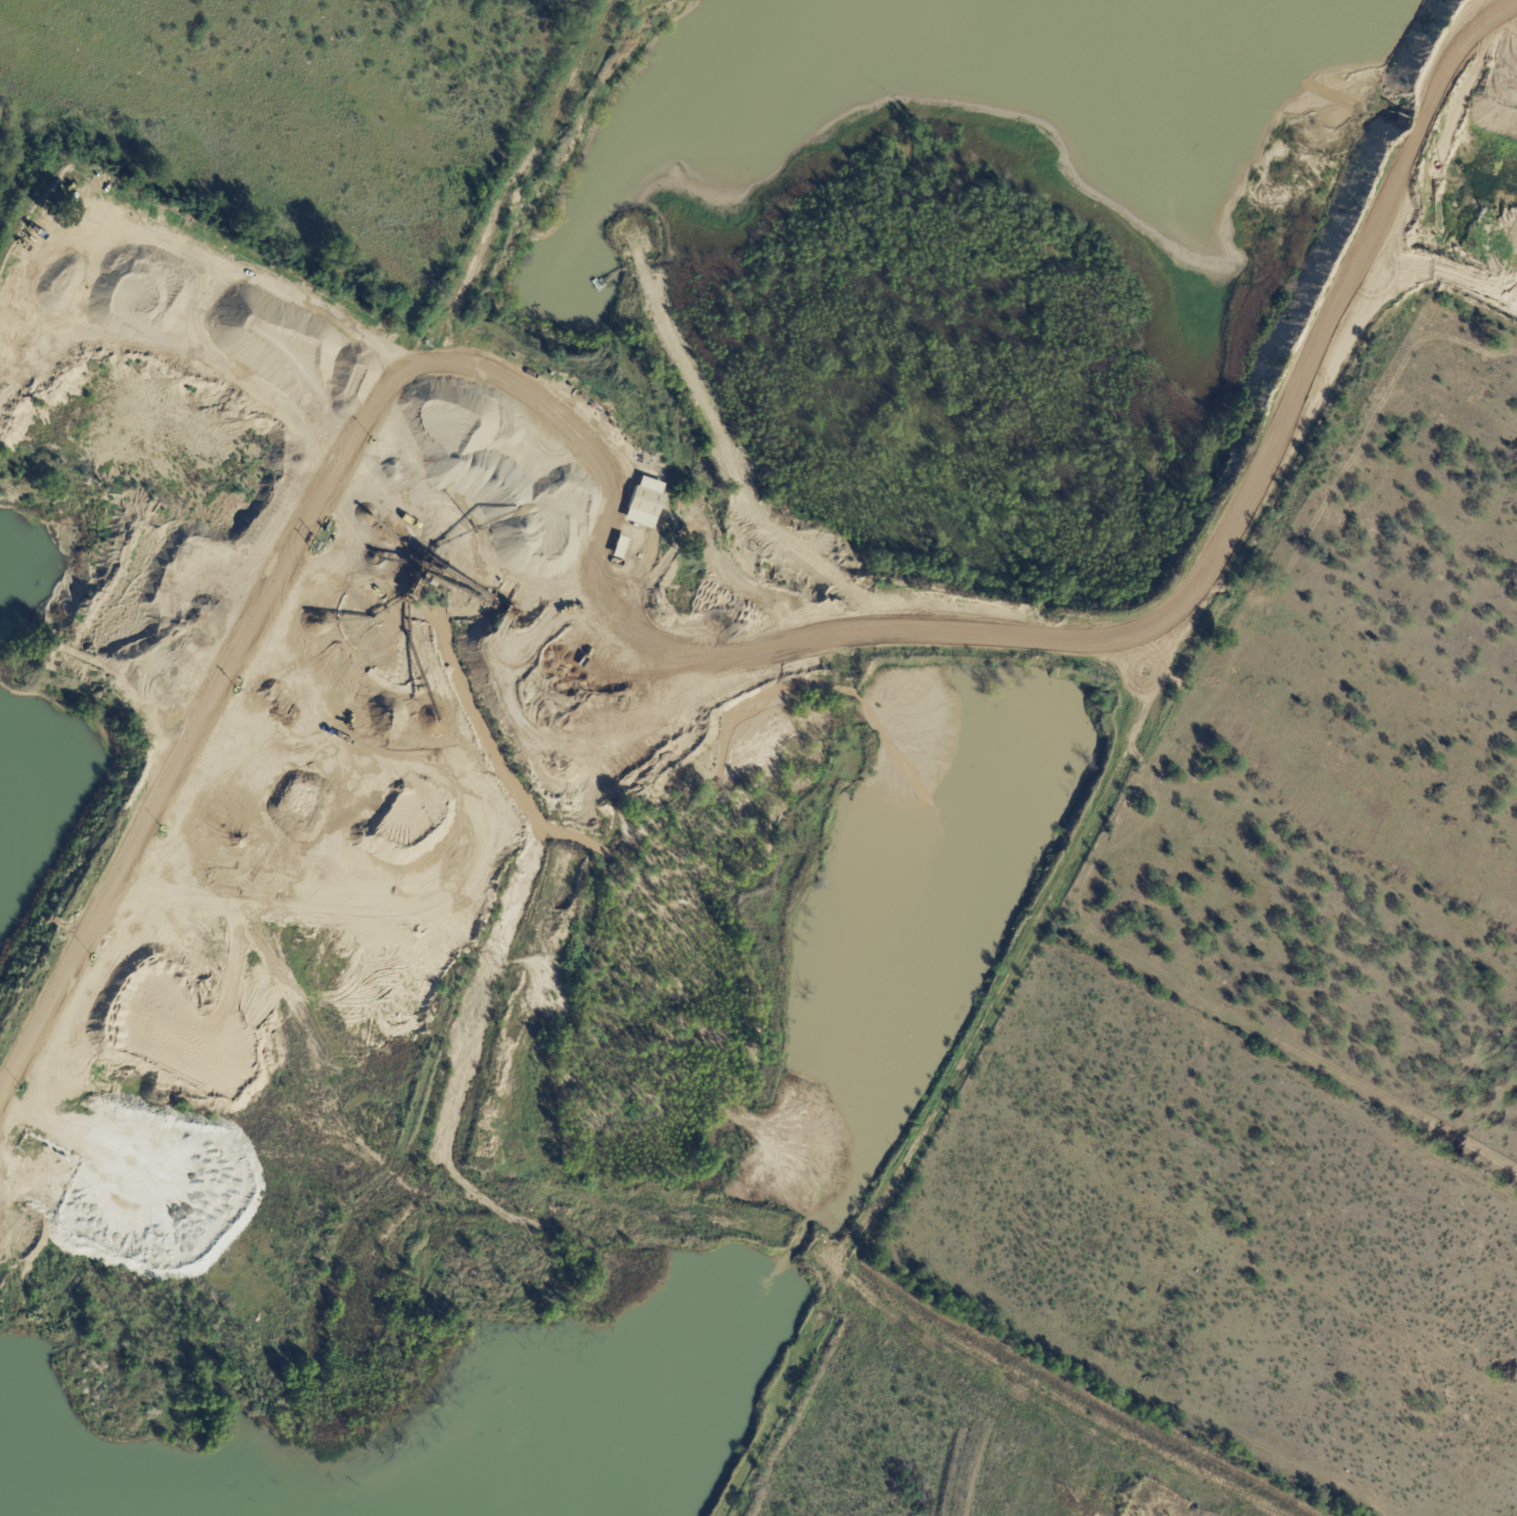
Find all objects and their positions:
building: (646, 502)
building: (618, 547)
road: (184, 759)

